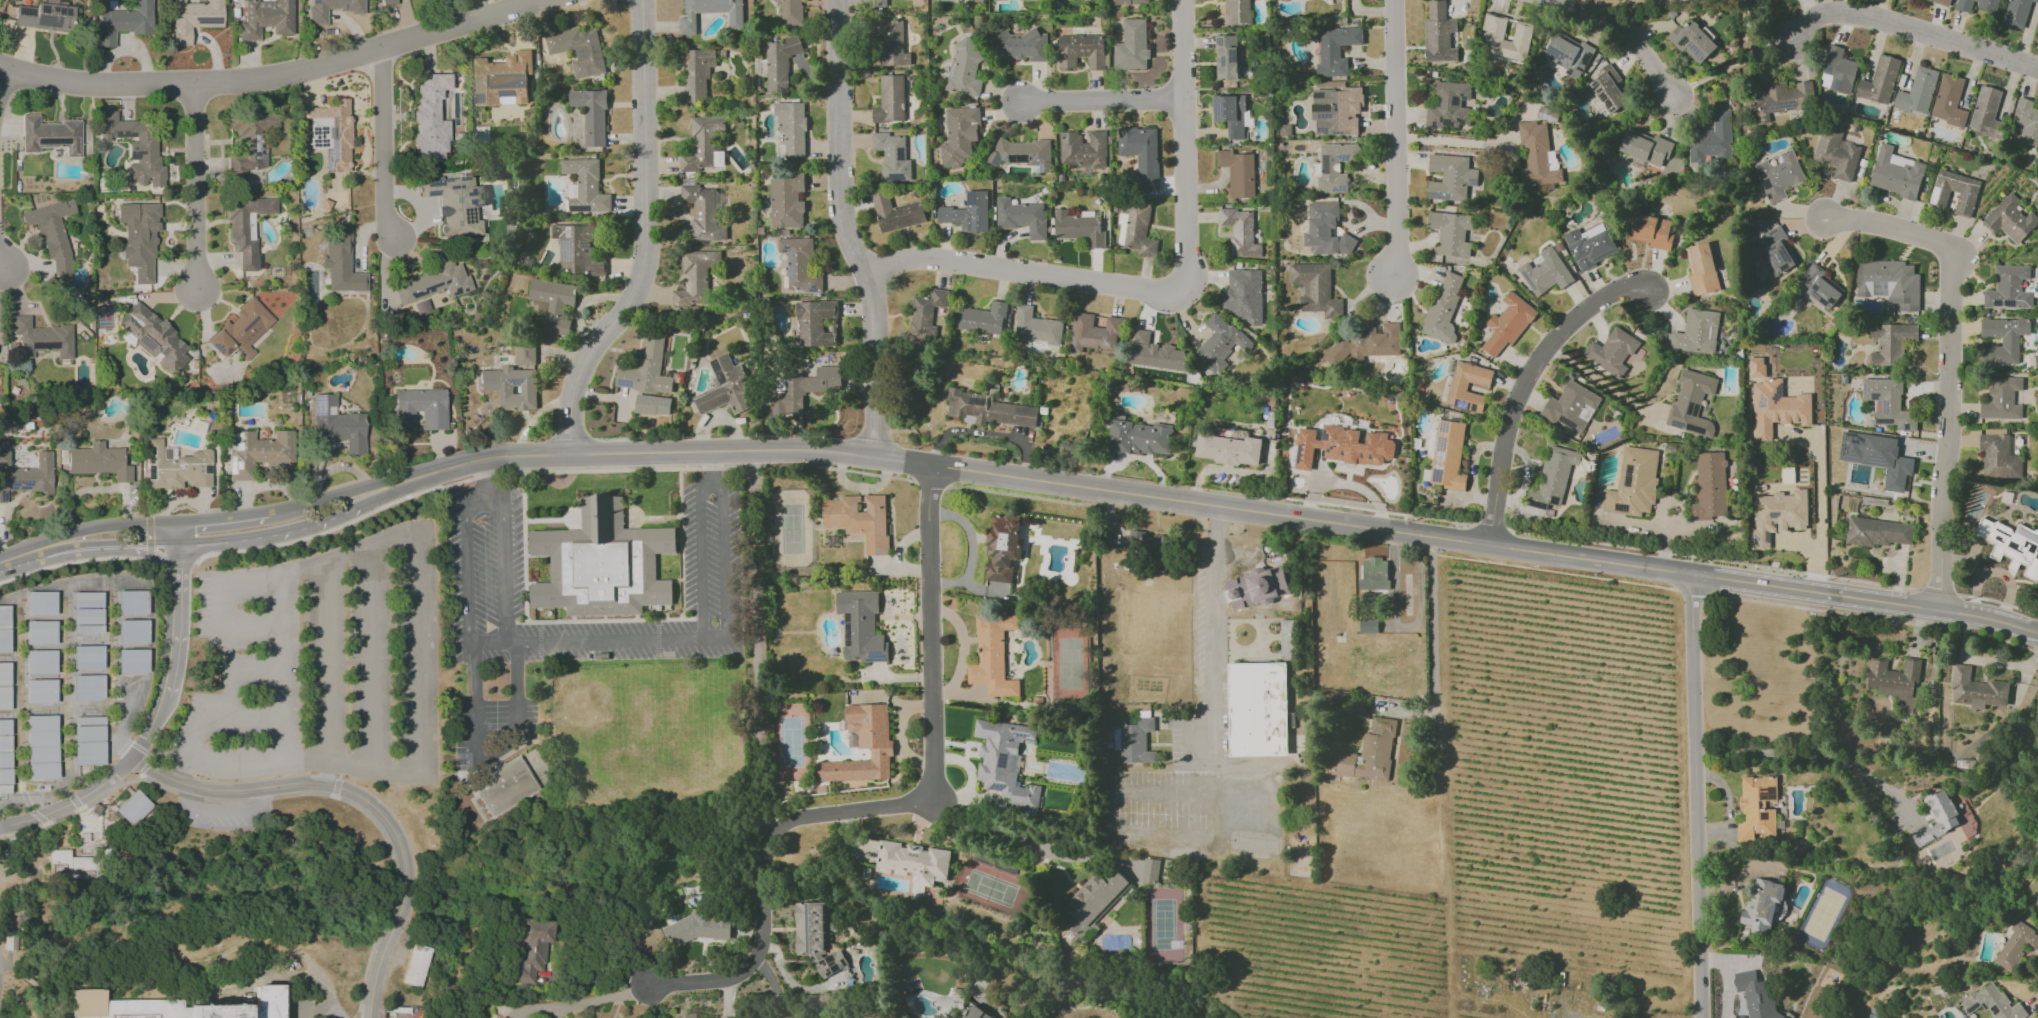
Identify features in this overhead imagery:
building: (949, 0)
building: (1942, 1)
building: (877, 2)
building: (1137, 2)
building: (389, 3)
building: (1977, 5)
building: (332, 9)
rooftop solar panel: (40, 10)
rooftop solar panel: (50, 10)
rooftop solar panel: (23, 12)
building: (790, 12)
building: (1237, 12)
rooftop solar panel: (56, 13)
building: (2016, 13)
rooftop solar panel: (63, 14)
building: (735, 15)
building: (45, 16)
building: (194, 18)
building: (266, 18)
rooftop solar panel: (45, 22)
building: (123, 23)
road: (1911, 30)
road: (1627, 33)
building: (1438, 34)
building: (1494, 35)
rooftop solar panel: (1681, 40)
building: (1692, 41)
building: (892, 43)
building: (1019, 45)
building: (1132, 45)
rooftop solar panel: (1691, 48)
building: (1335, 49)
rooftop solar panel: (1549, 49)
building: (578, 50)
building: (1081, 50)
rooftop solar panel: (1554, 53)
building: (1568, 53)
rooftop solar panel: (1562, 55)
building: (1226, 57)
building: (777, 63)
building: (963, 69)
road: (1734, 71)
building: (1837, 71)
building: (697, 73)
road: (278, 76)
road: (1, 78)
building: (503, 79)
building: (1879, 80)
building: (1608, 89)
rooftop solar panel: (1318, 92)
building: (1917, 92)
rooftop solar panel: (502, 93)
rooftop solar panel: (509, 95)
rooftop solar panel: (1466, 97)
rooftop solar panel: (482, 98)
building: (890, 99)
building: (1780, 99)
rooftop solar panel: (1456, 101)
building: (1949, 101)
rooftop solar panel: (1326, 102)
road: (1101, 104)
rooftop solar panel: (1775, 104)
building: (1449, 106)
rooftop solar panel: (1220, 109)
building: (1338, 109)
rooftop solar panel: (1334, 110)
rooftop solar panel: (1453, 112)
building: (1986, 112)
building: (591, 114)
building: (1230, 114)
building: (432, 118)
rooftop solar panel: (1323, 118)
building: (2026, 120)
rooftop solar panel: (1451, 123)
rooftop solar panel: (1462, 123)
rooftop solar panel: (1435, 126)
rooftop solar panel: (1324, 130)
rooftop solar panel: (1232, 131)
building: (331, 134)
rooftop solar panel: (123, 135)
building: (959, 135)
rooftop solar panel: (1337, 135)
building: (50, 136)
road: (1394, 140)
rooftop solar panel: (51, 141)
road: (1453, 141)
building: (1712, 141)
building: (248, 143)
building: (701, 143)
road: (1182, 144)
road: (384, 146)
building: (1645, 147)
building: (135, 148)
building: (1083, 149)
building: (1141, 153)
building: (1837, 153)
building: (1022, 154)
rooftop solar panel: (134, 156)
building: (892, 156)
rooftop solar panel: (1340, 156)
building: (1536, 156)
rooftop solar panel: (1023, 159)
building: (1551, 159)
rooftop solar panel: (1328, 163)
building: (1335, 166)
building: (1238, 173)
building: (1896, 173)
rooftop solar panel: (1763, 175)
building: (1779, 176)
building: (1450, 177)
rooftop solar panel: (1471, 182)
rooftop solar panel: (1769, 183)
building: (585, 186)
road: (195, 188)
rooftop solar panel: (1341, 190)
building: (1955, 192)
rooftop solar panel: (1431, 195)
rooftop solar panel: (1771, 197)
building: (786, 200)
building: (456, 206)
rooftop solar panel: (581, 212)
building: (703, 212)
building: (968, 212)
building: (896, 213)
building: (1021, 217)
building: (2010, 219)
building: (245, 226)
building: (1079, 227)
building: (1138, 228)
road: (846, 230)
building: (1325, 230)
building: (1652, 231)
building: (52, 232)
building: (1240, 232)
building: (1451, 232)
building: (139, 238)
road: (648, 238)
building: (1590, 246)
rooftop solar panel: (565, 247)
building: (577, 250)
building: (1775, 251)
road: (3, 260)
building: (800, 264)
building: (340, 265)
rooftop solar panel: (794, 266)
building: (1701, 268)
building: (1545, 272)
road: (1023, 273)
building: (695, 277)
rooftop solar panel: (1817, 281)
rooftop solar panel: (445, 282)
building: (1889, 282)
building: (431, 286)
building: (1818, 287)
building: (2009, 288)
building: (1314, 289)
rooftop solar panel: (463, 290)
rooftop solar panel: (424, 291)
rooftop solar panel: (456, 292)
building: (1243, 293)
rooftop solar panel: (1821, 299)
building: (554, 303)
rooftop solar panel: (1995, 304)
rooftop solar panel: (2006, 304)
building: (1443, 308)
building: (925, 316)
building: (982, 318)
building: (817, 323)
building: (1508, 323)
building: (1036, 326)
building: (241, 330)
building: (1697, 332)
building: (1093, 333)
building: (153, 337)
building: (42, 339)
building: (2003, 340)
building: (1891, 342)
building: (1219, 343)
rooftop solar panel: (145, 345)
building: (1365, 345)
building: (1612, 351)
rooftop solar panel: (165, 352)
building: (1156, 353)
building: (526, 355)
road: (1949, 359)
building: (646, 370)
rooftop solar panel: (516, 382)
road: (1526, 382)
road: (1602, 382)
building: (1458, 384)
building: (511, 387)
building: (725, 387)
building: (805, 388)
rooftop solar panel: (1782, 391)
building: (2001, 398)
rooftop solar panel: (1762, 402)
building: (1691, 403)
building: (1888, 403)
rooftop solar panel: (979, 404)
rooftop solar panel: (318, 405)
building: (1570, 406)
building: (420, 408)
rooftop solar panel: (1690, 408)
building: (1777, 408)
building: (988, 409)
rooftop solar panel: (1696, 410)
rooftop solar panel: (1564, 423)
building: (337, 424)
rooftop solar panel: (1676, 425)
rooftop solar panel: (1441, 427)
rooftop solar panel: (1695, 430)
building: (1139, 437)
rooftop solar panel: (239, 440)
rooftop solar panel: (1439, 444)
building: (1342, 446)
rooftop solar panel: (237, 447)
building: (1228, 449)
building: (257, 453)
rooftop solar panel: (149, 455)
building: (1448, 455)
rooftop solar panel: (1854, 456)
building: (1876, 456)
building: (1999, 456)
rooftop solar panel: (1880, 461)
building: (98, 462)
rooftop solar panel: (230, 466)
rooftop solar panel: (239, 466)
building: (176, 468)
road: (711, 470)
rooftop solar panel: (205, 471)
road: (546, 472)
rooftop solar panel: (149, 473)
building: (25, 475)
rooftop solar panel: (1435, 475)
building: (1554, 475)
rooftop solar panel: (1627, 476)
road: (1038, 480)
rooftop solar panel: (20, 482)
road: (373, 482)
road: (480, 482)
building: (1633, 482)
road: (930, 483)
road: (420, 486)
building: (1710, 486)
road: (1023, 495)
rooftop solar panel: (1555, 501)
road: (484, 504)
rooftop solar panel: (1538, 505)
rooftop solar panel: (1623, 505)
road: (1818, 508)
flagpole: (563, 509)
road: (1377, 510)
rooftop solar panel: (1776, 515)
building: (1778, 515)
building: (859, 520)
road: (224, 521)
road: (320, 522)
road: (1654, 525)
road: (1489, 527)
park: (791, 528)
road: (89, 529)
building: (1879, 532)
rooftop solar panel: (1770, 537)
rooftop solar panel: (1759, 539)
road: (143, 543)
building: (1147, 544)
building: (2011, 544)
building: (1001, 547)
road: (971, 548)
road: (138, 551)
road: (701, 558)
road: (722, 559)
road: (1713, 559)
road: (4, 560)
parking lot: (486, 560)
road: (73, 561)
road: (149, 563)
building: (604, 563)
road: (1555, 571)
building: (1373, 577)
building: (1257, 586)
road: (1938, 591)
road: (1691, 592)
road: (1817, 592)
road: (1998, 601)
building: (41, 604)
building: (132, 604)
building: (88, 614)
road: (414, 616)
road: (1434, 616)
road: (1873, 617)
building: (1368, 625)
building: (861, 626)
building: (4, 629)
rooftop solar panel: (848, 629)
building: (42, 633)
building: (133, 633)
building: (1291, 637)
road: (714, 638)
road: (589, 641)
road: (470, 644)
road: (228, 647)
road: (175, 648)
road: (962, 649)
building: (992, 655)
rooftop solar panel: (877, 657)
building: (88, 658)
road: (369, 659)
building: (132, 662)
park: (1069, 662)
building: (41, 663)
road: (229, 668)
road: (276, 668)
road: (324, 674)
building: (1894, 680)
building: (5, 686)
building: (88, 687)
building: (1975, 690)
building: (42, 692)
road: (1210, 702)
building: (1257, 709)
road: (931, 714)
road: (204, 718)
building: (5, 727)
parking lot: (493, 730)
rooftop solar panel: (1022, 734)
building: (1116, 739)
building: (89, 741)
park: (791, 741)
building: (1137, 742)
building: (863, 746)
building: (42, 748)
building: (1368, 753)
road: (487, 754)
road: (1817, 757)
building: (1004, 760)
rooftop solar panel: (1003, 761)
building: (5, 765)
parking lot: (1200, 765)
road: (764, 766)
building: (505, 788)
rooftop solar panel: (1772, 795)
road: (1697, 797)
road: (358, 801)
road: (70, 804)
building: (1757, 807)
building: (133, 808)
rooftop solar panel: (1770, 815)
building: (1937, 817)
road: (1022, 840)
building: (913, 862)
building: (79, 864)
building: (1150, 871)
park: (990, 887)
building: (1094, 900)
building: (1764, 905)
building: (694, 929)
building: (815, 937)
building: (2016, 946)
building: (533, 949)
building: (417, 966)
road: (773, 985)
building: (1756, 995)
road: (602, 999)
building: (1992, 1002)
road: (991, 1004)
building: (244, 1006)
rooftop solar panel: (1985, 1006)
building: (120, 1007)
rooftop solar panel: (1975, 1008)
rooftop solar panel: (1994, 1008)
building: (976, 1013)
building: (398, 1015)
building: (688, 1015)
building: (951, 1016)
building: (2037, 1016)
building: (501, 1017)
building: (704, 1017)

